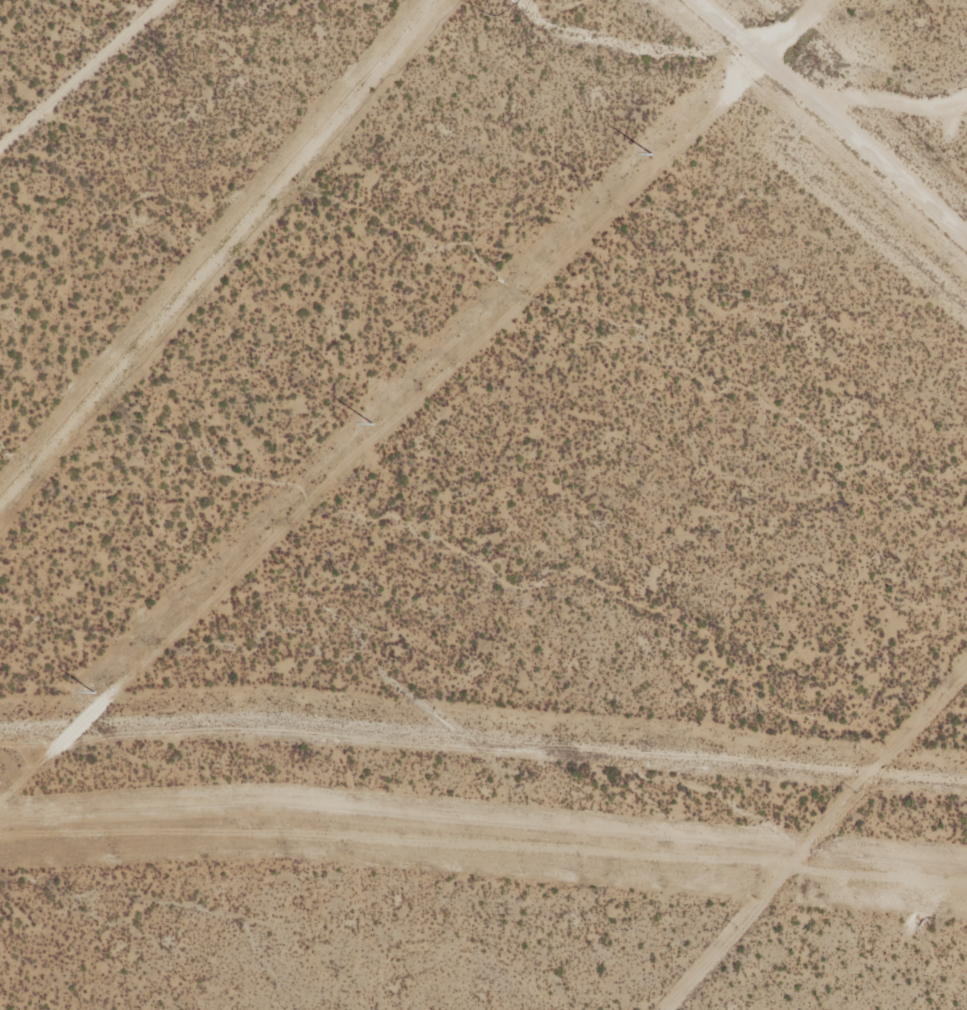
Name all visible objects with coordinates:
road: (830, 121)

